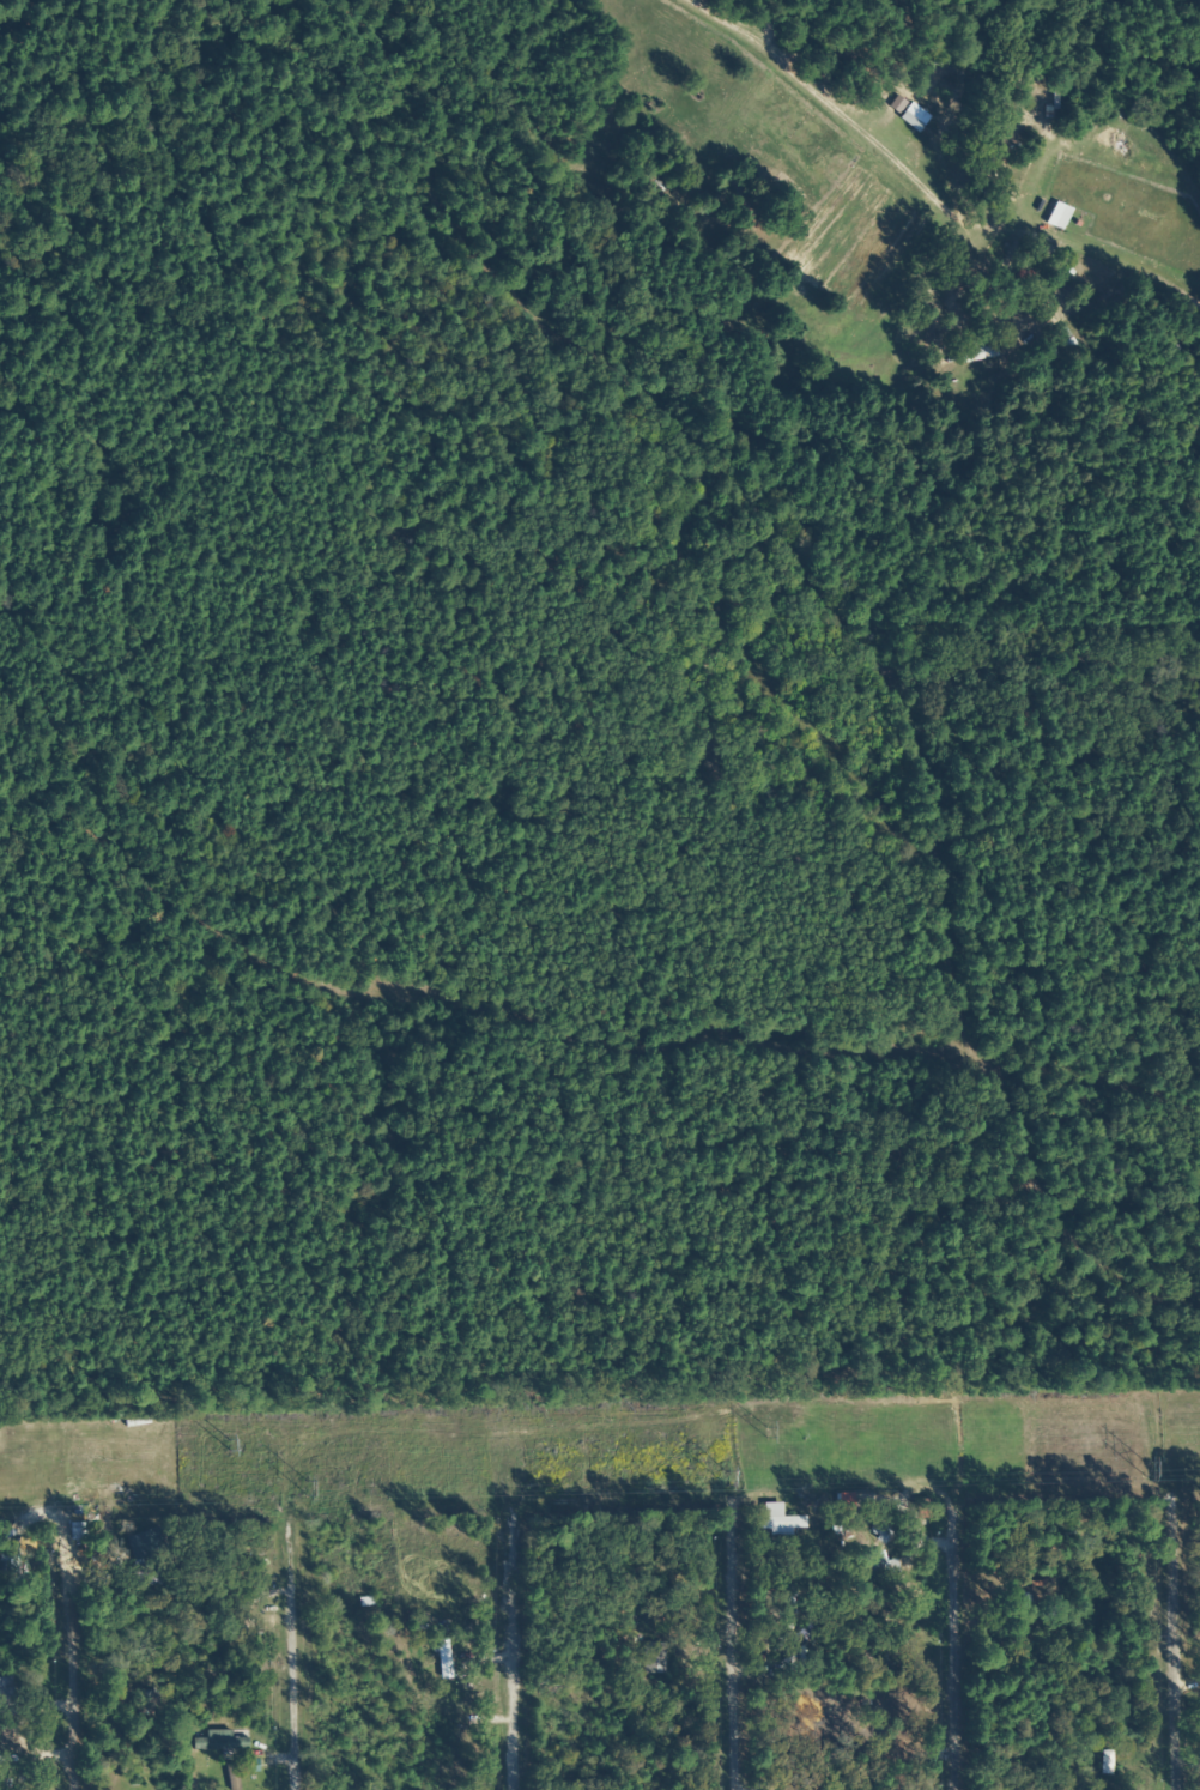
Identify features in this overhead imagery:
power tower: (759, 1427)
power tower: (217, 1438)
power tower: (1138, 1464)
power tower: (720, 1476)
power tower: (299, 1484)
building: (776, 1518)
building: (878, 1573)
road: (1177, 1652)
building: (442, 1658)
road: (273, 1662)
road: (709, 1664)
road: (56, 1670)
road: (491, 1670)
road: (934, 1685)
building: (4, 1694)
building: (217, 1741)
building: (1104, 1762)

